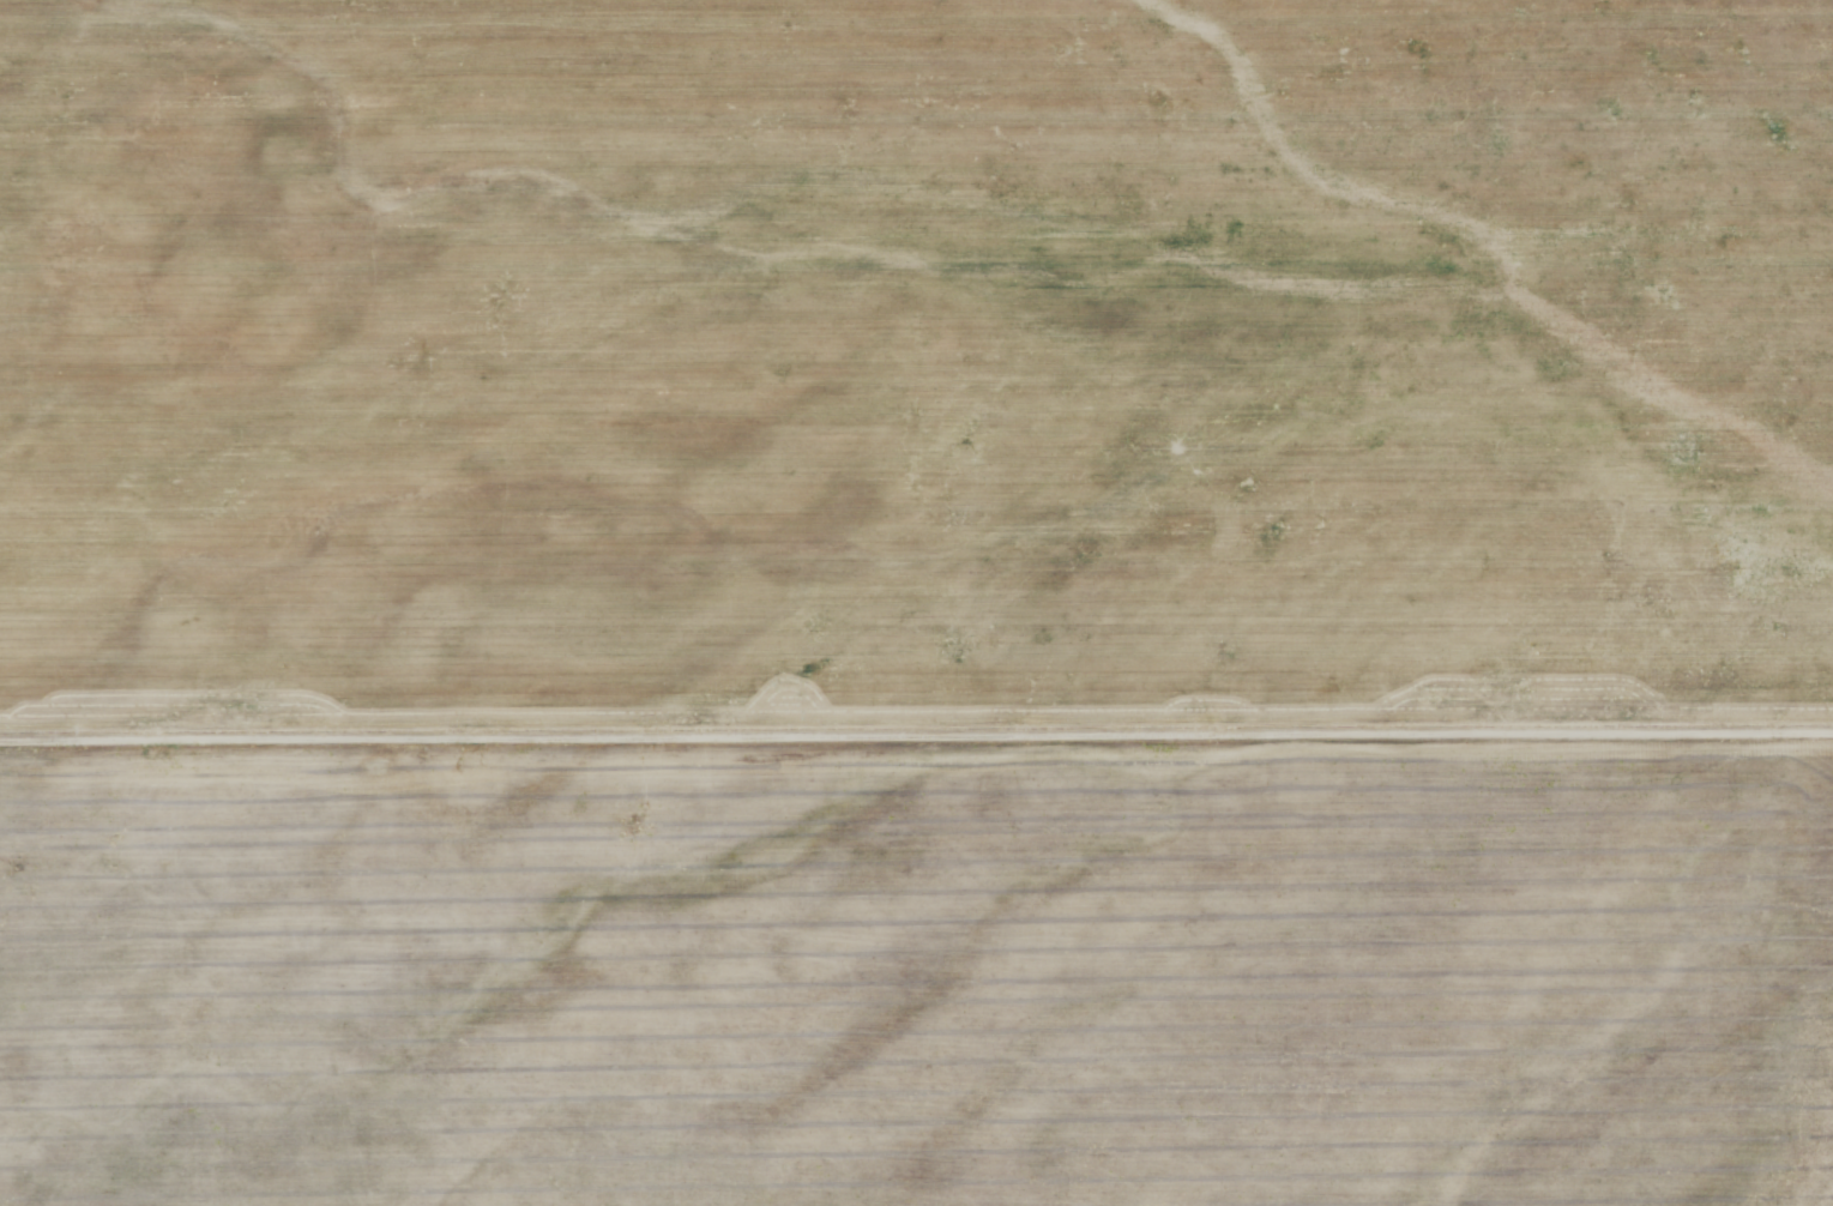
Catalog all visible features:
road: (916, 731)

